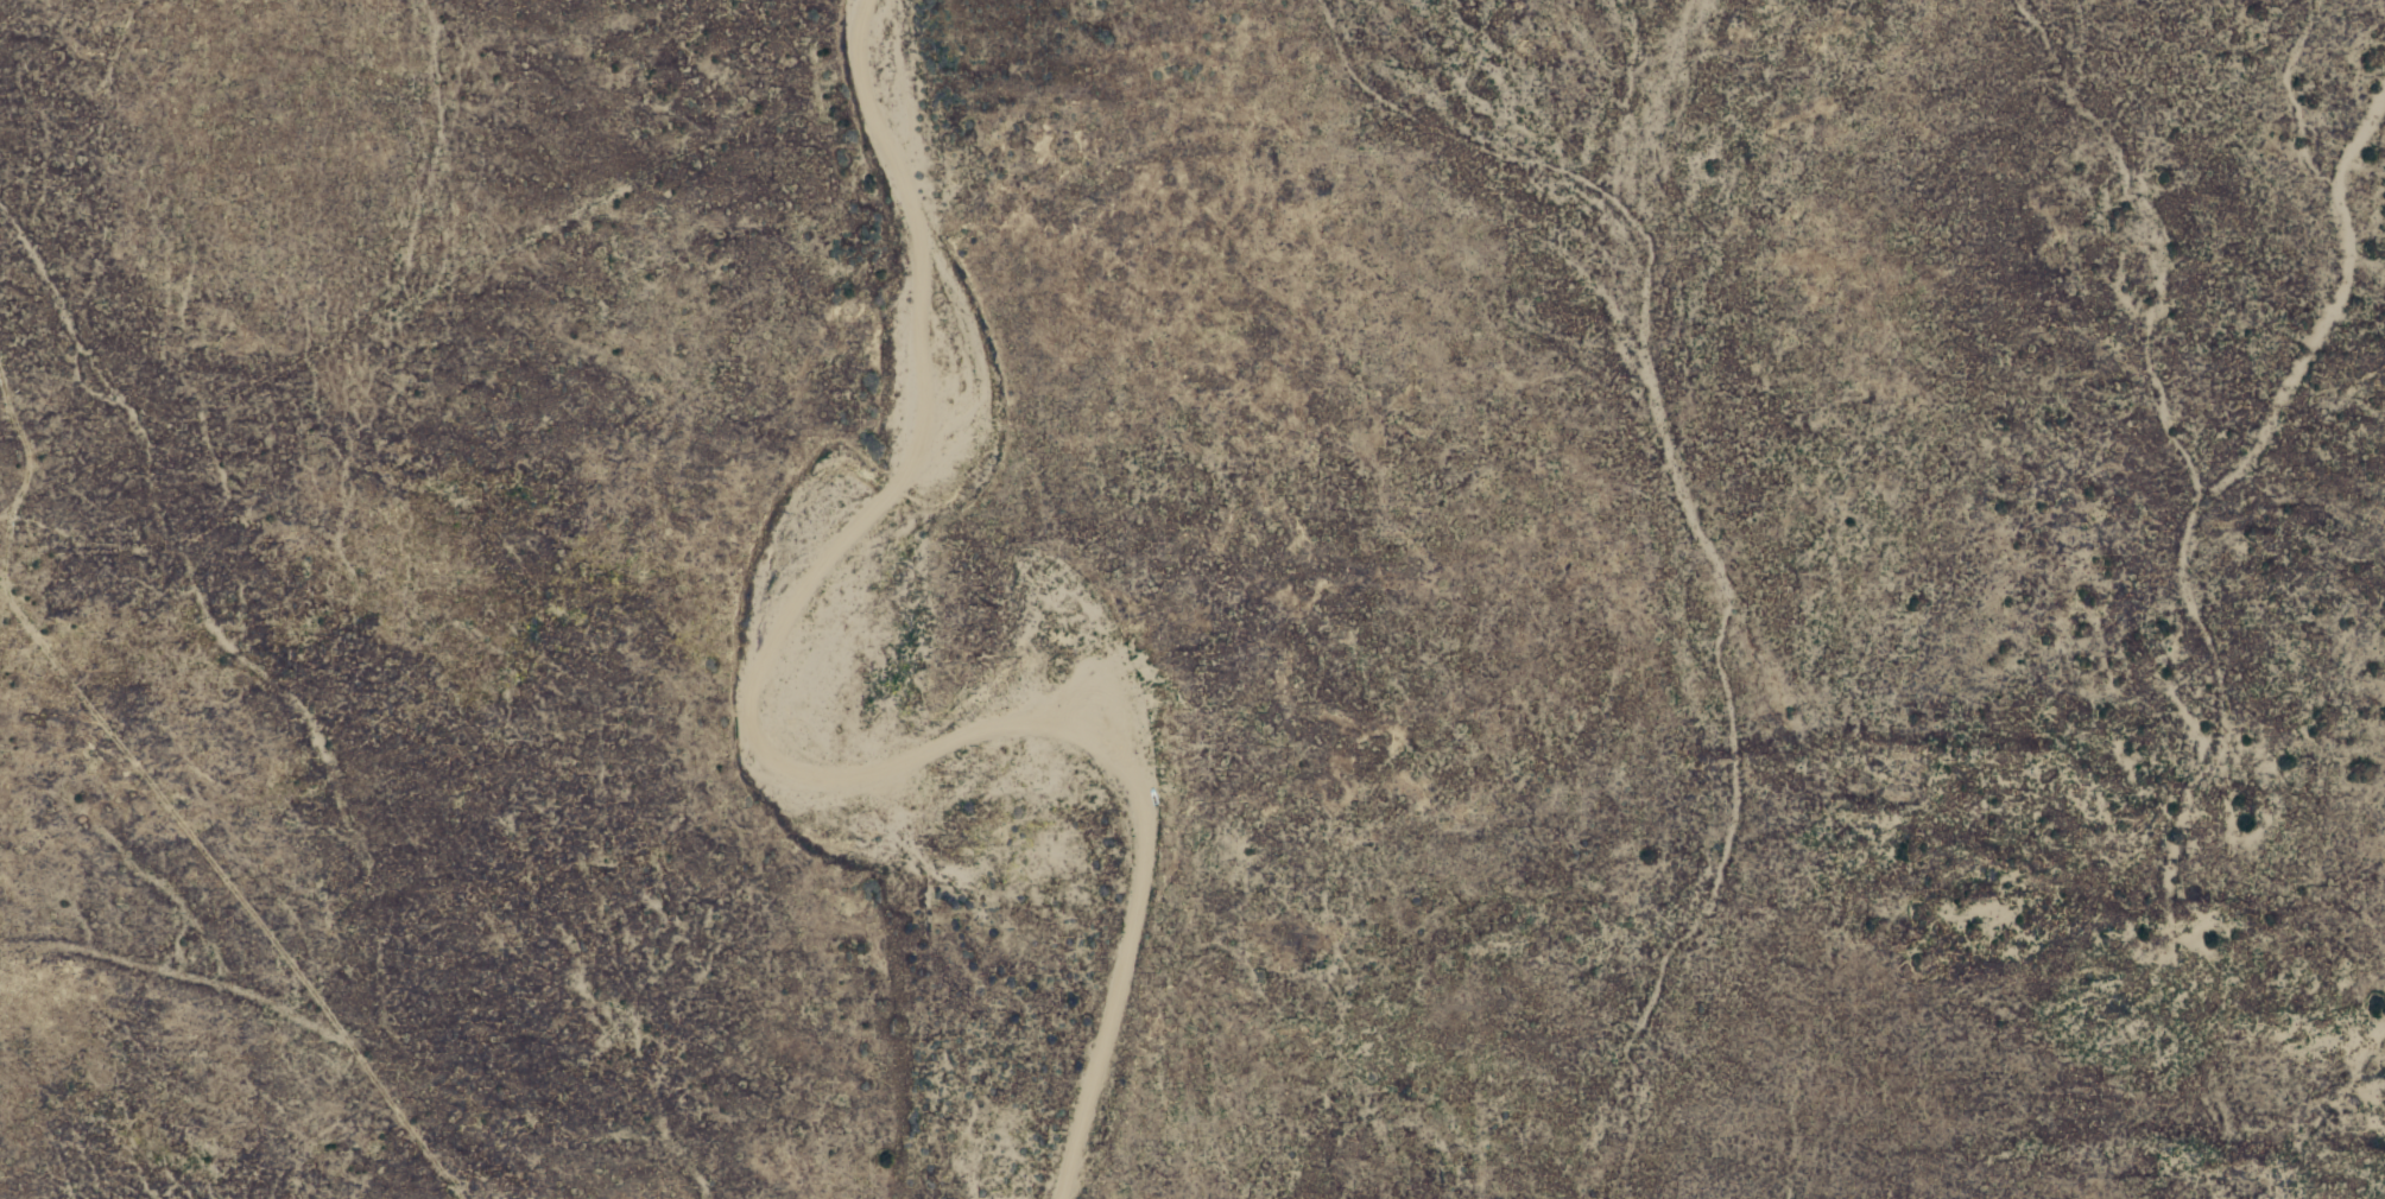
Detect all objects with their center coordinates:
road: (748, 746)

